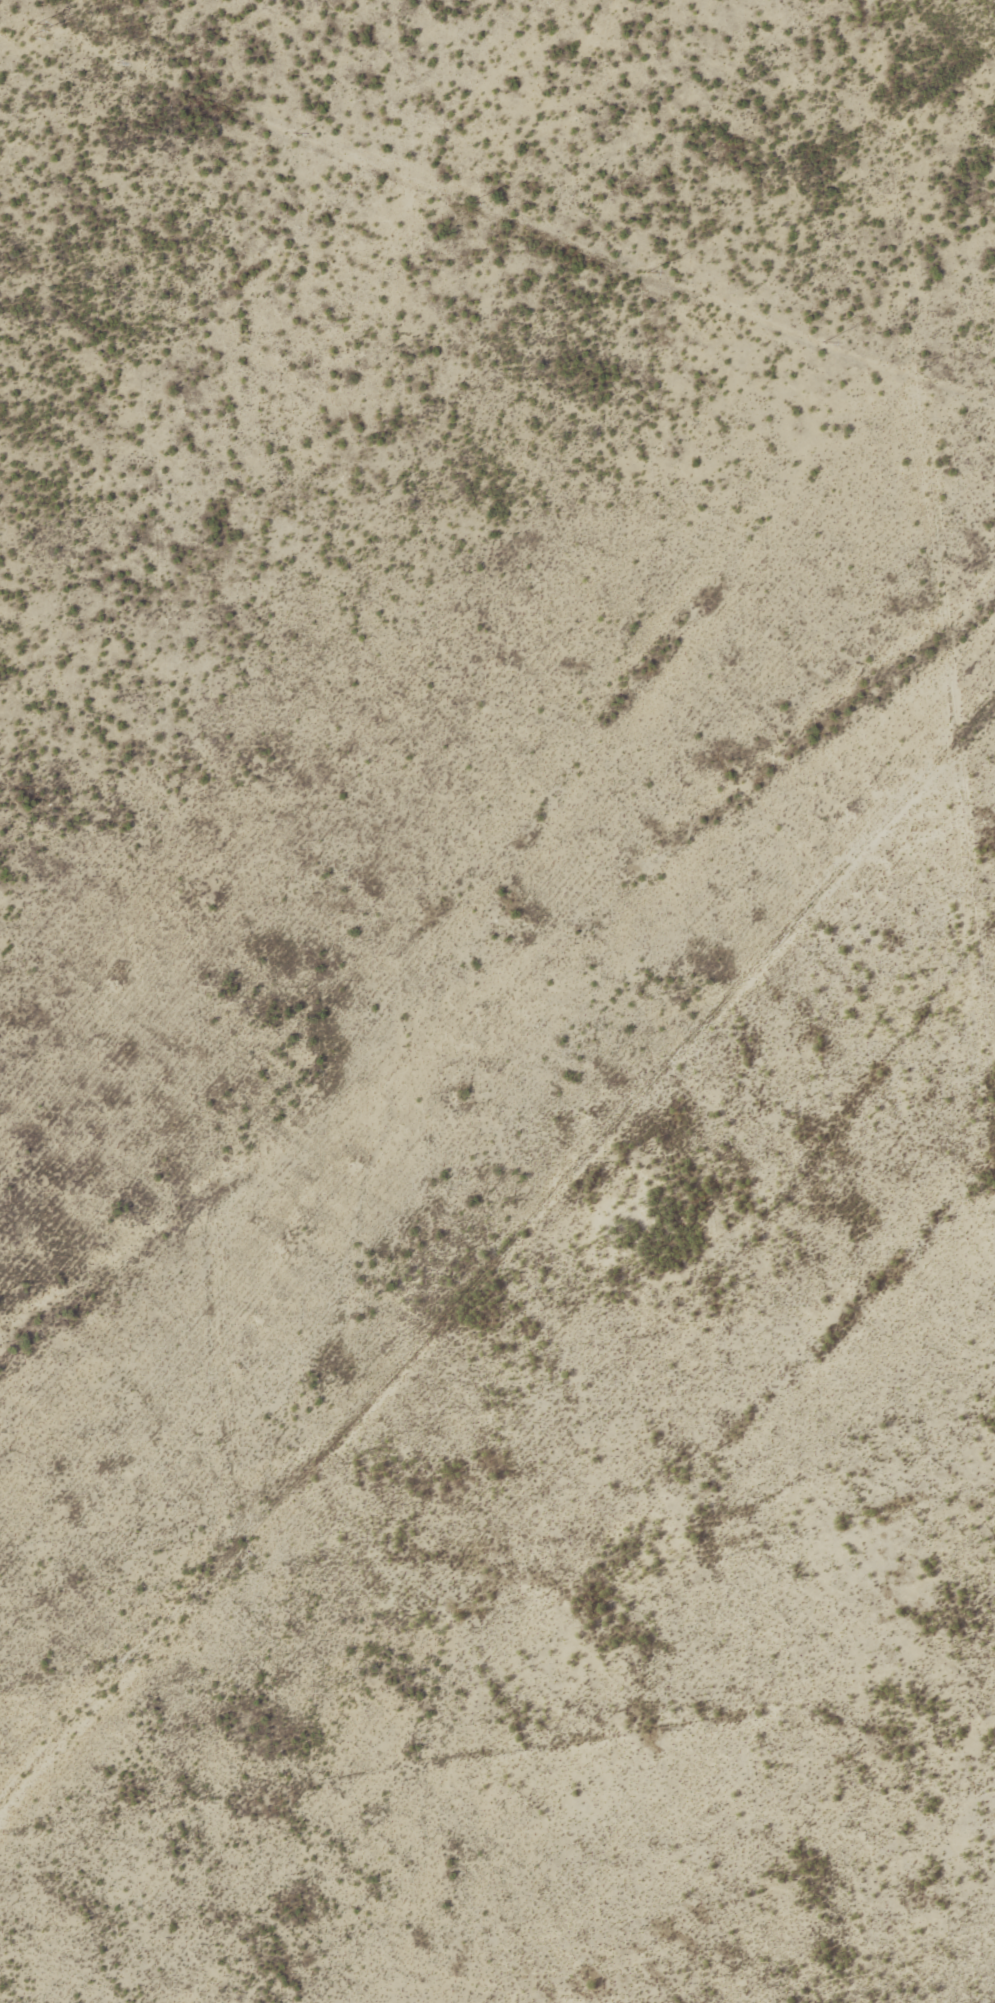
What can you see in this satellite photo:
power tower: (34, 30)
power tower: (116, 64)
power tower: (293, 134)
power tower: (470, 203)
power tower: (647, 274)
power tower: (824, 343)

